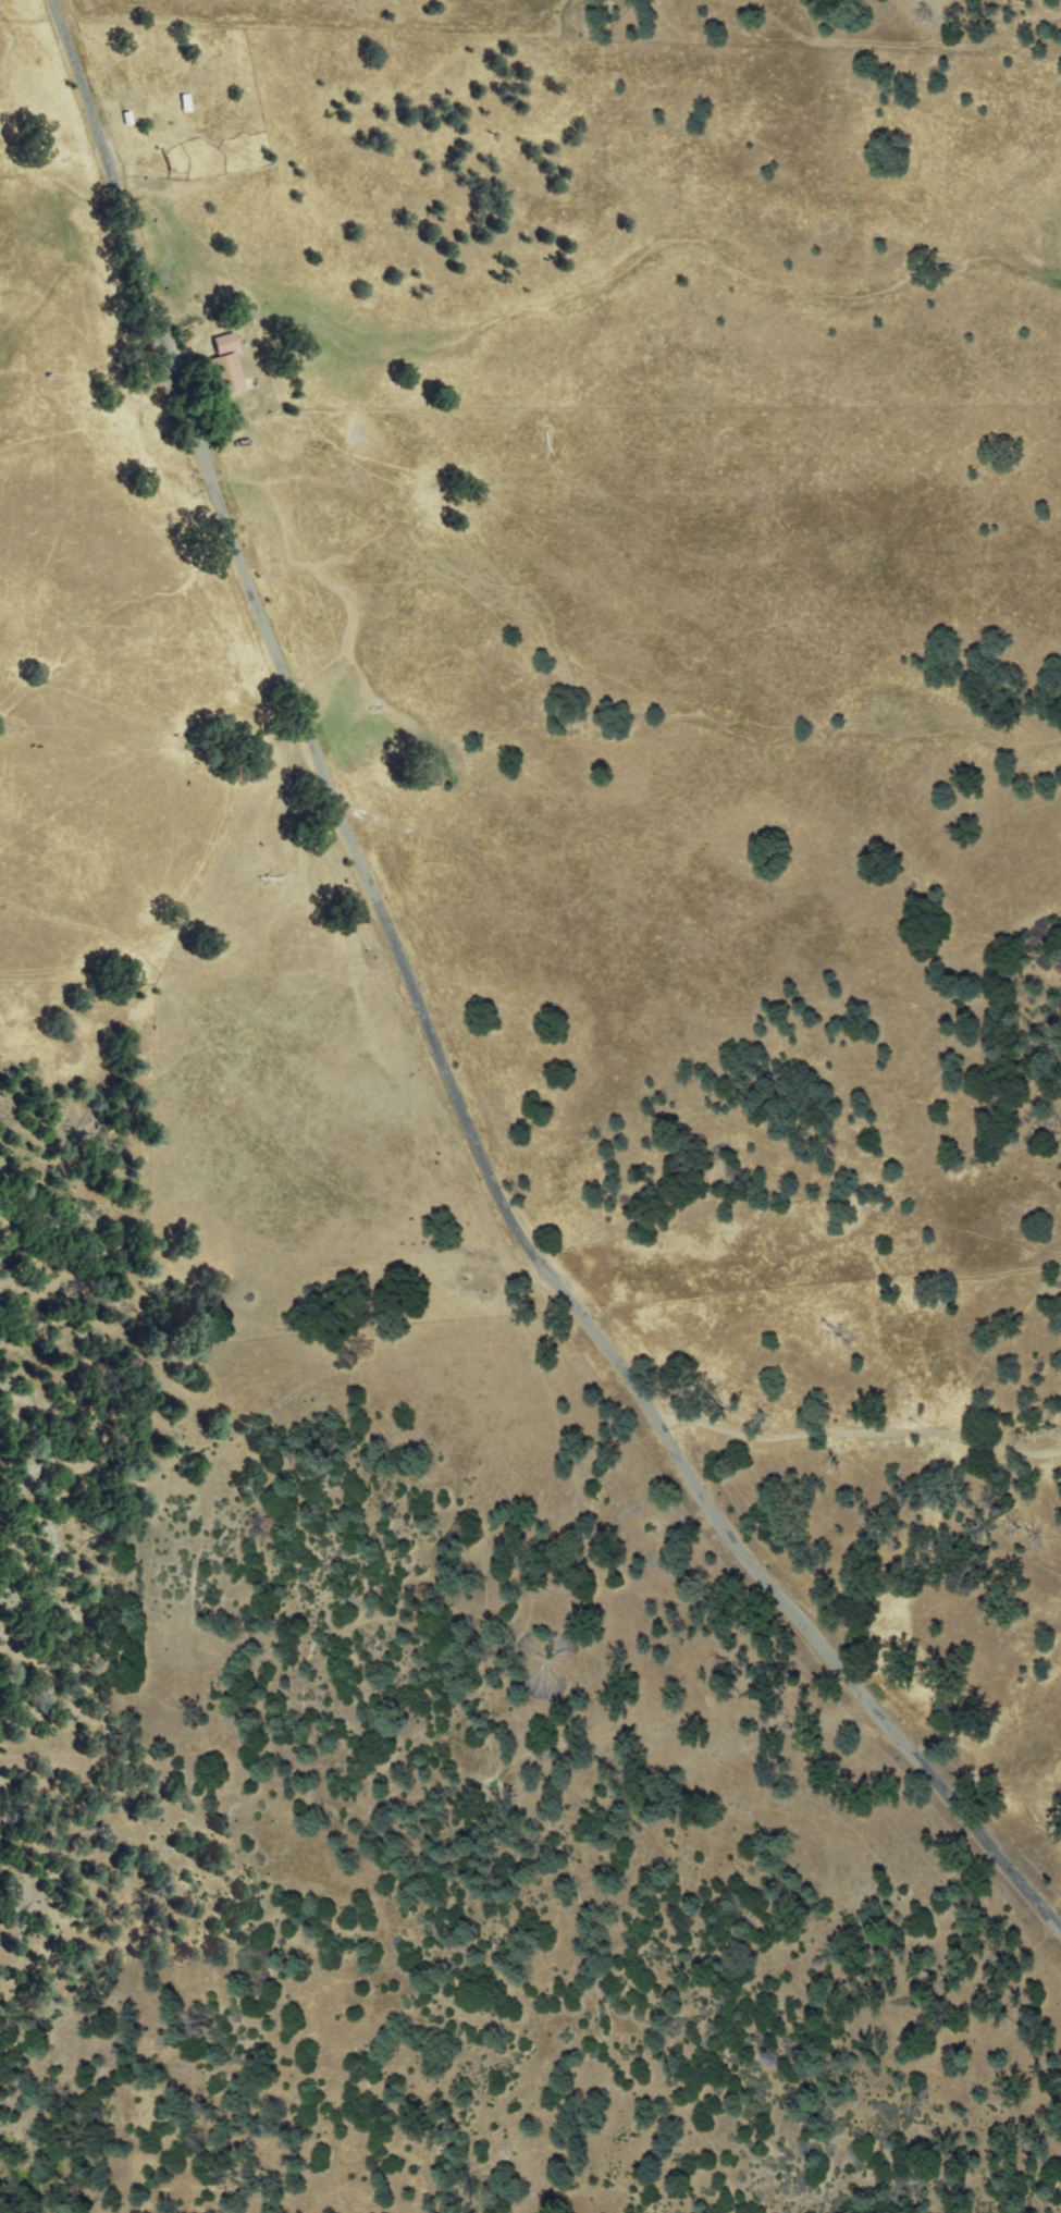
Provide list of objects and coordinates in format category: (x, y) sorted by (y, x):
building: (226, 343)
building: (227, 374)
road: (427, 1037)
road: (231, 1136)
road: (804, 1251)
road: (119, 1477)
building: (498, 2166)

